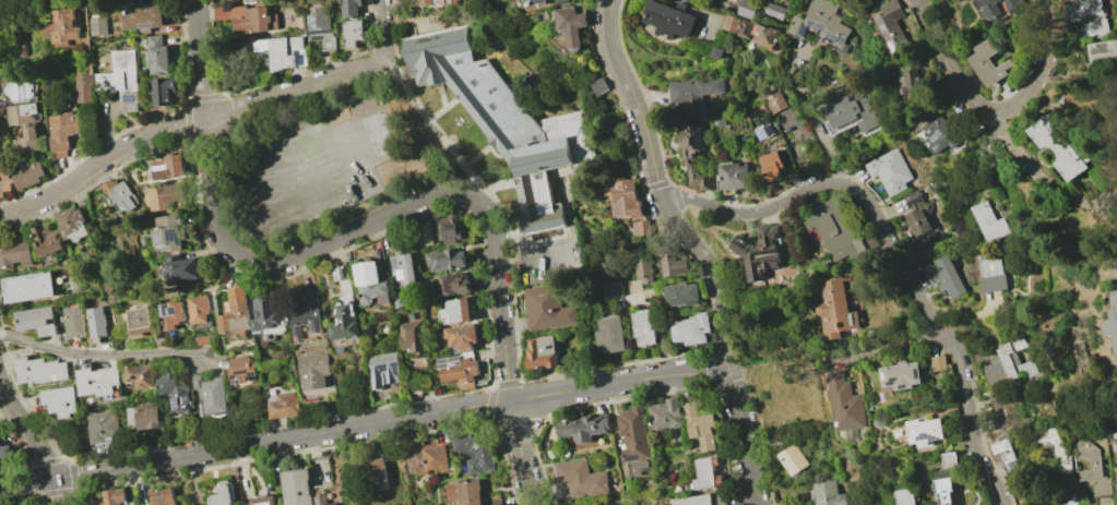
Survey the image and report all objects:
building: (543, 1)
building: (426, 2)
building: (447, 2)
building: (1013, 3)
building: (349, 8)
building: (989, 8)
building: (746, 9)
building: (774, 11)
building: (143, 15)
building: (1090, 19)
building: (254, 20)
building: (668, 20)
rooftop solar panel: (808, 21)
building: (820, 22)
building: (730, 23)
rooftop solar panel: (148, 24)
building: (571, 25)
building: (97, 26)
rooftop solar panel: (820, 26)
rooftop solar panel: (887, 26)
building: (891, 26)
building: (60, 27)
building: (320, 27)
rooftop solar panel: (801, 29)
building: (353, 33)
building: (760, 34)
rooftop solar panel: (832, 36)
rooftop solar panel: (895, 37)
building: (287, 52)
building: (715, 52)
building: (1103, 53)
building: (157, 55)
road: (201, 58)
building: (989, 63)
building: (120, 79)
road: (322, 80)
building: (910, 82)
building: (598, 85)
building: (83, 87)
building: (20, 91)
building: (163, 91)
building: (693, 95)
rooftop solar panel: (129, 97)
building: (774, 101)
rooftop solar panel: (133, 106)
road: (994, 110)
building: (757, 111)
building: (22, 113)
building: (848, 113)
rooftop solar panel: (36, 116)
road: (812, 118)
building: (503, 123)
rooftop solar panel: (31, 124)
road: (136, 127)
building: (763, 131)
building: (61, 132)
road: (439, 132)
building: (940, 132)
rooftop solar panel: (941, 134)
building: (26, 141)
rooftop solar panel: (944, 145)
building: (1060, 147)
building: (694, 156)
road: (99, 164)
building: (772, 165)
building: (165, 168)
building: (889, 171)
road: (1034, 171)
building: (28, 173)
building: (733, 176)
building: (4, 182)
road: (662, 189)
road: (211, 190)
building: (120, 195)
building: (167, 196)
building: (625, 199)
road: (757, 215)
building: (919, 216)
building: (991, 223)
building: (73, 225)
building: (642, 227)
road: (363, 228)
building: (447, 228)
building: (835, 229)
building: (169, 232)
rooftop solar panel: (177, 233)
building: (421, 235)
rooftop solar panel: (162, 237)
building: (46, 240)
building: (14, 251)
building: (759, 251)
building: (444, 260)
building: (670, 263)
road: (226, 268)
building: (918, 268)
building: (402, 269)
building: (639, 269)
building: (183, 270)
building: (338, 273)
rooftop solar panel: (401, 274)
building: (991, 274)
building: (946, 277)
building: (370, 282)
building: (451, 285)
building: (29, 288)
building: (611, 289)
building: (680, 293)
rooftop solar panel: (166, 308)
building: (837, 308)
building: (199, 309)
building: (547, 309)
road: (925, 310)
building: (454, 311)
building: (236, 312)
rooftop solar panel: (177, 313)
building: (174, 314)
building: (306, 314)
building: (266, 317)
building: (1112, 320)
building: (37, 321)
building: (344, 321)
building: (76, 322)
building: (99, 322)
building: (141, 322)
building: (643, 327)
building: (690, 329)
building: (610, 335)
building: (412, 336)
building: (461, 336)
road: (886, 347)
building: (542, 352)
road: (102, 354)
road: (713, 354)
road: (506, 358)
rooftop solar panel: (447, 361)
rooftop solar panel: (455, 361)
building: (1015, 362)
building: (938, 363)
building: (242, 369)
building: (41, 370)
building: (314, 370)
building: (383, 370)
building: (458, 370)
rooftop solar panel: (917, 372)
building: (140, 375)
rooftop solar panel: (883, 375)
building: (900, 375)
rooftop solar panel: (891, 381)
building: (99, 383)
rooftop solar panel: (906, 386)
building: (175, 389)
building: (213, 394)
building: (60, 401)
building: (843, 404)
rooftop solar panel: (176, 406)
building: (284, 406)
building: (999, 410)
building: (664, 413)
building: (144, 416)
road: (364, 425)
building: (103, 426)
building: (583, 426)
building: (699, 426)
building: (923, 431)
building: (633, 434)
rooftop solar panel: (926, 436)
road: (742, 437)
road: (37, 441)
building: (1057, 447)
building: (4, 450)
road: (23, 452)
building: (1116, 452)
building: (473, 453)
building: (1005, 454)
building: (426, 458)
building: (793, 460)
building: (948, 460)
building: (1093, 469)
building: (378, 470)
building: (704, 474)
traffic signals: (57, 476)
building: (580, 478)
road: (990, 478)
building: (297, 486)
building: (942, 488)
building: (464, 493)
building: (223, 494)
building: (827, 494)
building: (162, 496)
building: (905, 496)
building: (112, 497)
building: (1069, 498)
building: (702, 500)
building: (264, 501)
building: (322, 501)

